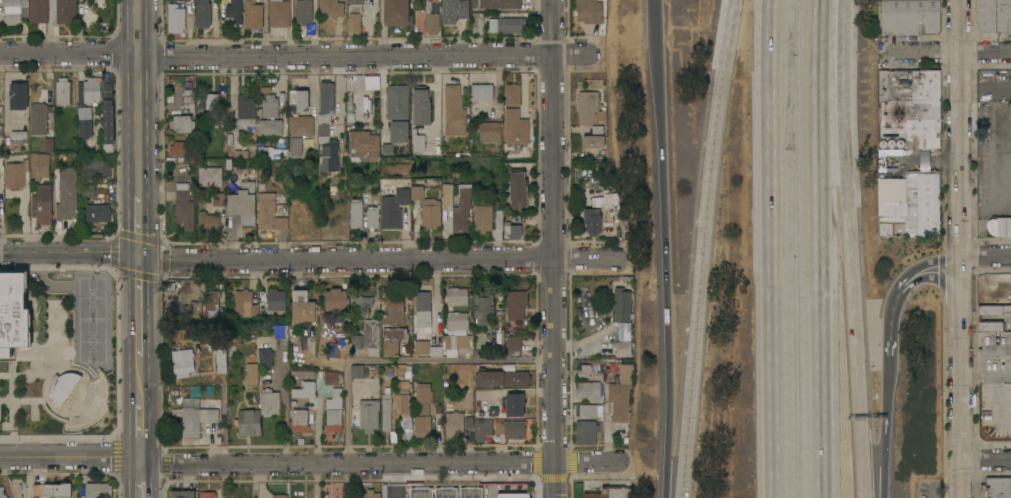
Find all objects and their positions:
building: (472, 2)
building: (500, 4)
building: (331, 8)
building: (66, 10)
building: (13, 11)
building: (38, 11)
building: (304, 11)
building: (453, 11)
building: (589, 11)
building: (234, 12)
building: (396, 12)
building: (278, 13)
building: (203, 14)
building: (253, 14)
building: (353, 16)
building: (910, 16)
building: (994, 16)
building: (176, 18)
building: (430, 20)
building: (476, 22)
building: (513, 22)
road: (656, 24)
building: (491, 25)
road: (137, 28)
road: (985, 53)
road: (295, 56)
building: (91, 90)
building: (264, 90)
building: (63, 92)
building: (480, 92)
building: (513, 94)
building: (18, 96)
road: (382, 96)
building: (281, 97)
building: (298, 99)
building: (189, 100)
road: (311, 100)
building: (398, 102)
building: (910, 105)
building: (269, 106)
building: (421, 106)
building: (325, 107)
building: (589, 108)
building: (212, 109)
building: (246, 110)
building: (454, 111)
building: (480, 111)
building: (259, 113)
building: (38, 118)
building: (108, 118)
building: (1010, 118)
building: (85, 121)
building: (182, 124)
road: (138, 125)
building: (301, 126)
building: (270, 127)
building: (516, 127)
road: (839, 129)
building: (398, 131)
building: (489, 131)
building: (19, 137)
building: (593, 138)
building: (363, 143)
building: (418, 143)
building: (49, 144)
building: (294, 146)
building: (182, 147)
building: (267, 153)
building: (239, 154)
building: (327, 154)
building: (42, 165)
building: (94, 168)
building: (15, 173)
building: (209, 176)
road: (996, 176)
building: (325, 189)
building: (518, 189)
building: (88, 190)
building: (67, 193)
building: (447, 198)
building: (2, 199)
building: (219, 199)
building: (605, 200)
building: (244, 202)
building: (42, 204)
building: (184, 206)
building: (918, 206)
building: (394, 208)
building: (426, 208)
building: (462, 211)
building: (98, 212)
building: (356, 213)
building: (265, 214)
building: (604, 215)
building: (373, 217)
building: (208, 221)
building: (488, 221)
building: (592, 221)
building: (281, 223)
road: (139, 226)
building: (613, 226)
building: (999, 226)
building: (513, 230)
road: (164, 241)
road: (706, 248)
road: (773, 248)
road: (826, 248)
road: (553, 249)
road: (958, 249)
road: (69, 255)
road: (984, 255)
traffic signals: (139, 257)
road: (383, 259)
street lamp: (15, 265)
road: (921, 269)
road: (667, 273)
street lamp: (117, 281)
road: (44, 284)
building: (996, 289)
building: (456, 296)
park: (91, 297)
road: (435, 297)
building: (336, 300)
building: (276, 301)
building: (208, 303)
building: (246, 303)
street lamp: (57, 304)
building: (516, 304)
building: (621, 304)
road: (139, 306)
building: (361, 306)
building: (302, 307)
building: (484, 307)
building: (14, 309)
building: (993, 310)
building: (457, 320)
building: (422, 321)
building: (395, 324)
road: (48, 326)
building: (989, 326)
road: (887, 327)
building: (281, 331)
building: (368, 337)
building: (493, 337)
street lamp: (57, 340)
park: (91, 340)
building: (515, 344)
building: (622, 348)
road: (985, 349)
road: (118, 351)
building: (338, 351)
building: (265, 355)
road: (399, 359)
building: (184, 362)
building: (222, 362)
street lamp: (41, 365)
street lamp: (104, 371)
building: (357, 371)
building: (583, 371)
road: (139, 373)
road: (5, 374)
building: (252, 374)
road: (998, 375)
building: (599, 376)
road: (972, 376)
building: (331, 377)
building: (502, 378)
road: (856, 378)
street lamp: (109, 382)
street lamp: (85, 383)
building: (371, 384)
building: (61, 386)
road: (81, 388)
building: (305, 390)
building: (589, 390)
road: (79, 392)
building: (621, 394)
road: (75, 398)
building: (422, 398)
building: (482, 398)
road: (28, 399)
building: (269, 402)
building: (404, 403)
building: (513, 404)
road: (53, 407)
road: (284, 407)
street lamp: (67, 408)
building: (386, 408)
building: (588, 410)
building: (333, 411)
building: (367, 413)
road: (11, 418)
street lamp: (41, 419)
building: (195, 420)
building: (300, 421)
street lamp: (99, 422)
building: (248, 422)
building: (456, 425)
building: (422, 426)
road: (140, 427)
building: (511, 428)
building: (482, 429)
road: (884, 429)
street lamp: (79, 432)
building: (586, 432)
street lamp: (101, 439)
street lamp: (16, 440)
road: (116, 455)
road: (986, 457)
road: (311, 465)
road: (140, 480)
building: (998, 488)
building: (57, 490)
building: (98, 490)
building: (332, 490)
building: (468, 492)
building: (610, 492)
building: (2, 493)
building: (426, 493)
building: (443, 493)
building: (181, 494)
building: (370, 494)
building: (208, 495)
building: (511, 495)
building: (280, 496)

